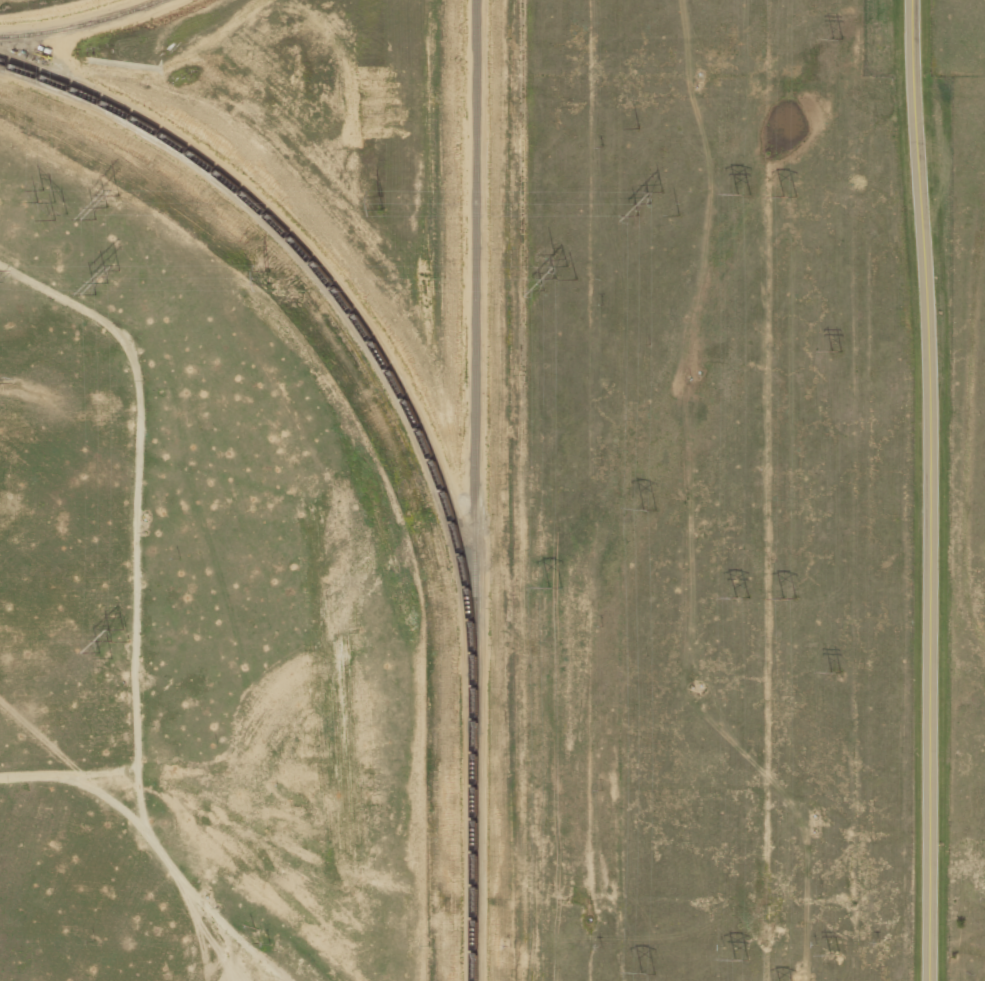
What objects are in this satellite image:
railway: (79, 24)
power plant: (462, 38)
power tower: (829, 39)
power tower: (736, 194)
power tower: (783, 197)
power tower: (375, 202)
power tower: (643, 203)
power tower: (53, 205)
power tower: (104, 206)
power tower: (547, 278)
power tower: (275, 280)
power tower: (105, 283)
railway: (335, 293)
railway: (473, 337)
power tower: (832, 349)
road: (924, 490)
power tower: (644, 508)
power plant: (446, 528)
power tower: (549, 586)
power tower: (736, 596)
power tower: (783, 597)
power tower: (110, 641)
power tower: (831, 672)
railway: (471, 828)
power tower: (828, 942)
power tower: (737, 948)
power tower: (644, 976)

